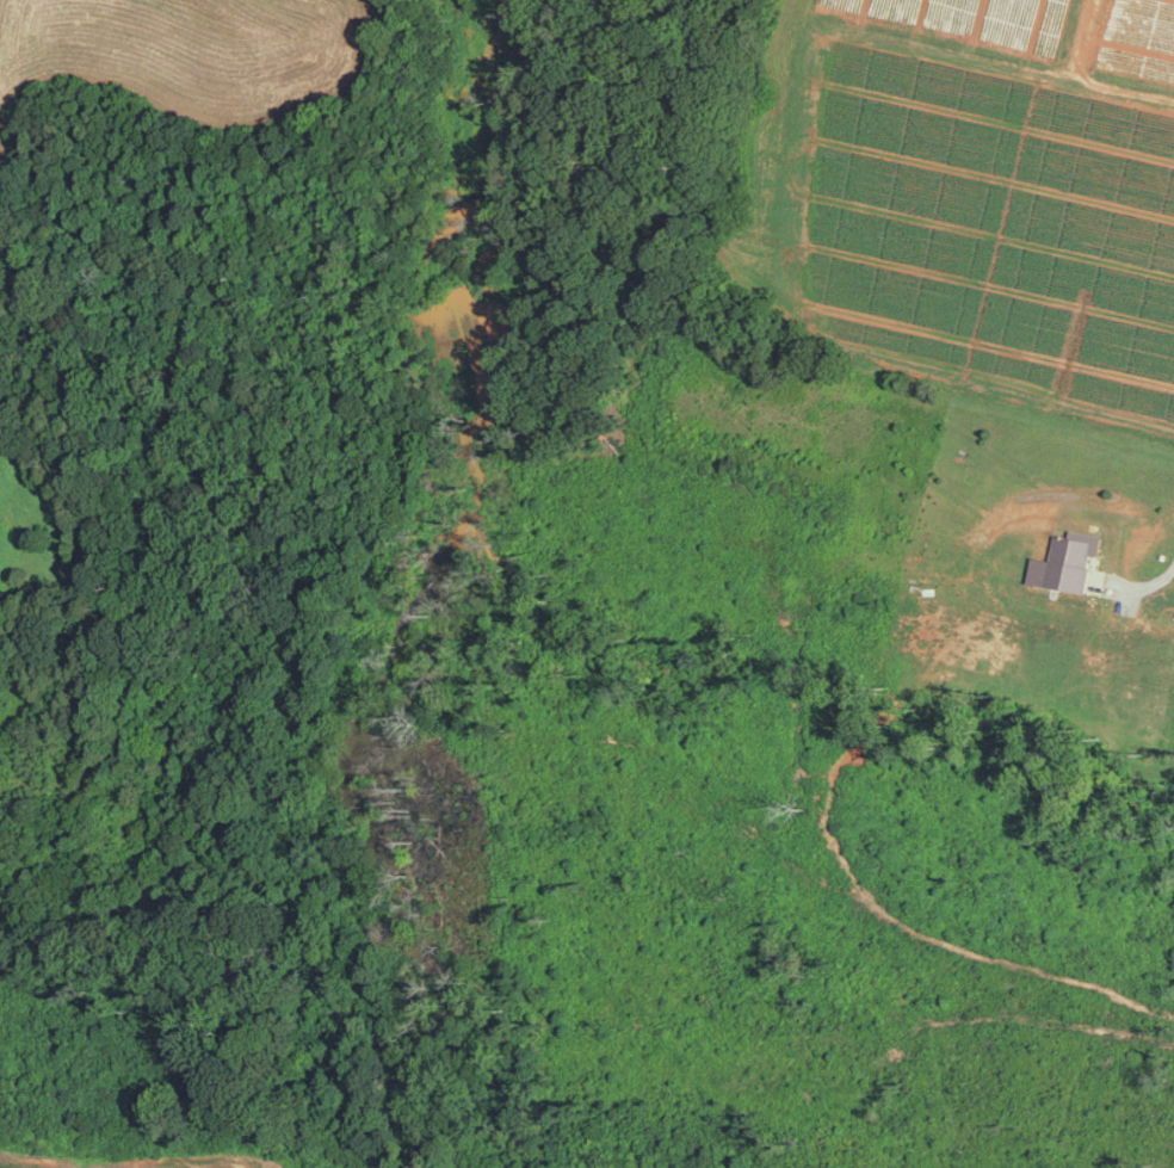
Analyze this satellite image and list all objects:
building: (1069, 561)

